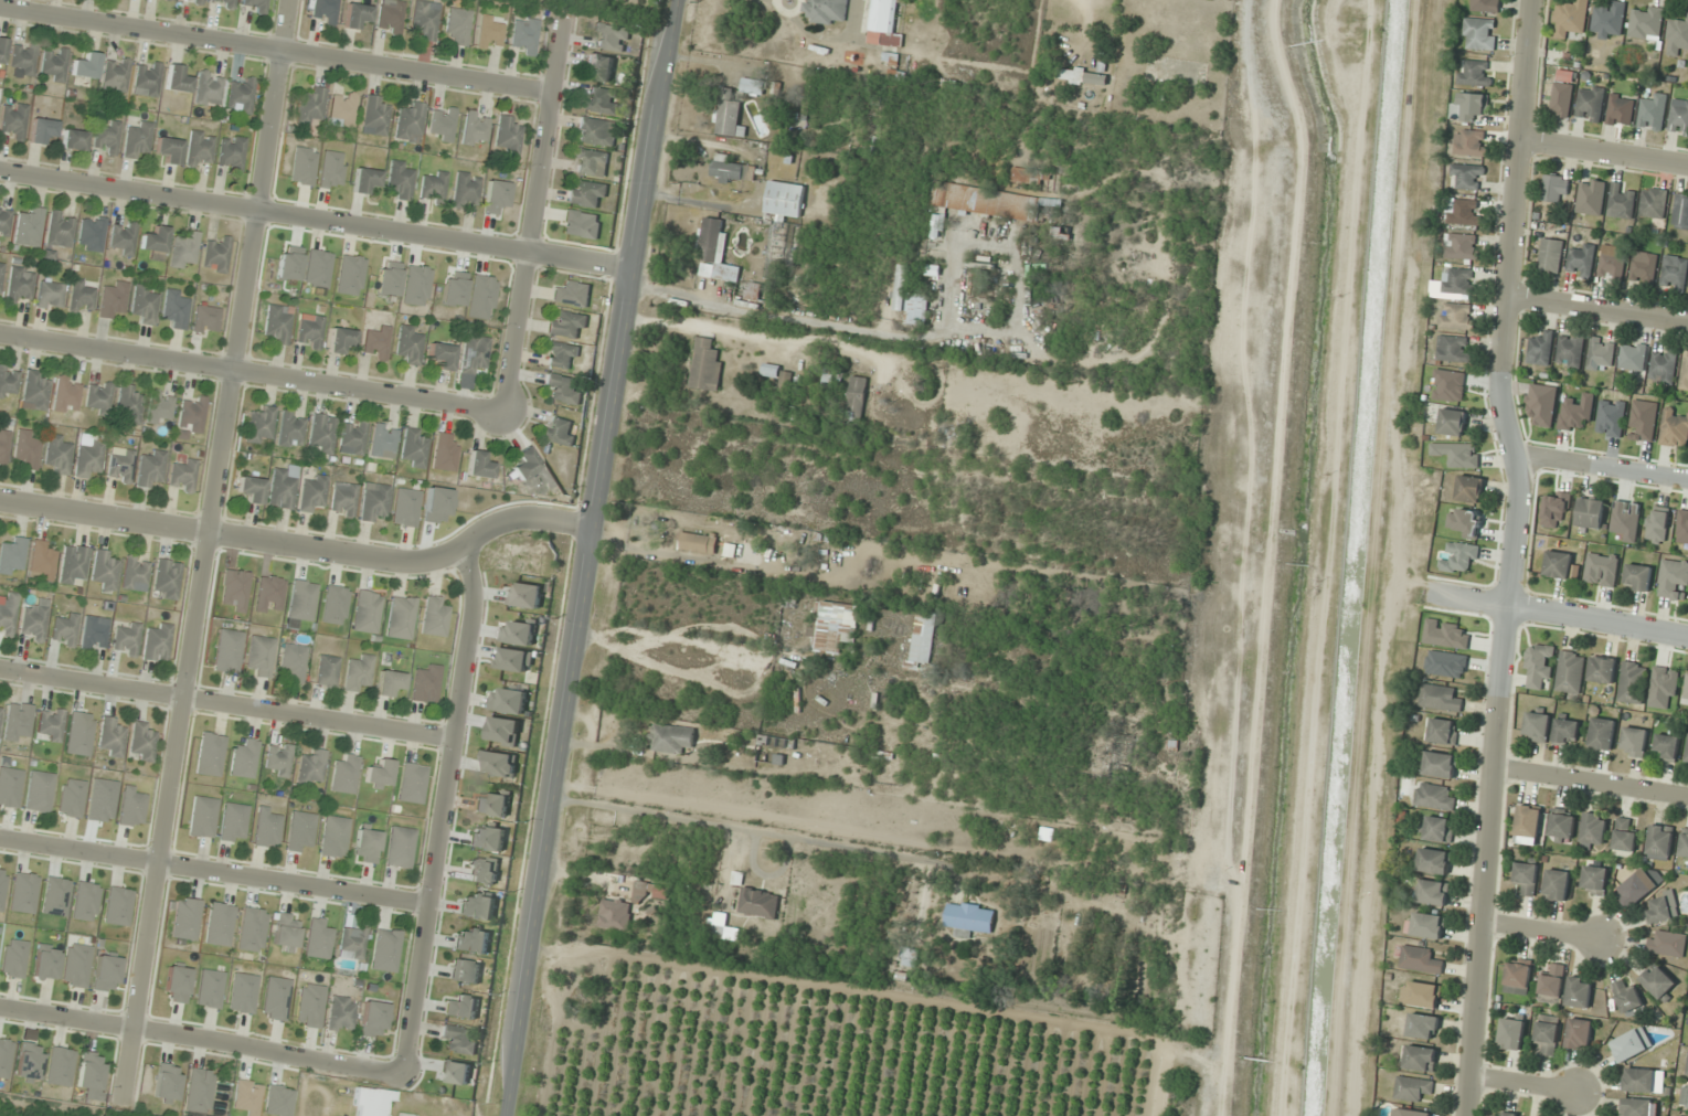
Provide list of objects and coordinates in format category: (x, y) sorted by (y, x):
building: (194, 1)
building: (223, 3)
building: (255, 6)
building: (1484, 6)
building: (327, 11)
building: (828, 11)
building: (357, 17)
building: (392, 18)
building: (425, 20)
building: (1571, 20)
building: (1646, 22)
building: (883, 23)
building: (458, 25)
building: (490, 33)
building: (1479, 34)
building: (525, 35)
building: (1677, 36)
building: (611, 38)
building: (2, 50)
road: (275, 51)
building: (23, 62)
building: (54, 65)
building: (601, 66)
building: (86, 67)
building: (1475, 74)
building: (116, 75)
building: (1082, 76)
building: (147, 79)
building: (177, 81)
building: (753, 86)
building: (209, 89)
building: (1562, 94)
building: (240, 96)
building: (603, 102)
building: (1590, 103)
building: (311, 107)
building: (1472, 108)
building: (342, 109)
building: (1620, 110)
building: (1653, 113)
building: (730, 115)
building: (376, 116)
building: (1679, 118)
building: (13, 121)
building: (410, 123)
building: (476, 129)
building: (42, 130)
building: (597, 131)
building: (509, 137)
building: (107, 139)
building: (74, 141)
building: (138, 141)
building: (1468, 142)
building: (169, 150)
building: (200, 150)
road: (1604, 152)
building: (231, 155)
building: (591, 162)
building: (731, 169)
building: (1030, 177)
building: (1468, 177)
building: (365, 180)
building: (401, 181)
building: (434, 187)
building: (1556, 189)
building: (467, 191)
building: (587, 194)
building: (1591, 196)
building: (785, 199)
building: (1622, 201)
building: (986, 202)
building: (1653, 203)
building: (0, 204)
building: (1680, 211)
building: (1464, 212)
road: (534, 213)
road: (315, 219)
building: (4, 223)
building: (936, 226)
building: (30, 227)
building: (61, 231)
building: (92, 235)
building: (124, 238)
building: (156, 242)
building: (1462, 246)
building: (715, 249)
building: (184, 253)
building: (216, 255)
building: (1550, 256)
building: (1581, 262)
building: (1612, 264)
building: (1643, 268)
building: (1, 272)
building: (1674, 272)
building: (1458, 281)
building: (20, 286)
building: (900, 288)
building: (753, 291)
building: (571, 295)
building: (51, 296)
building: (82, 298)
building: (114, 300)
building: (145, 305)
building: (176, 309)
building: (917, 309)
road: (1596, 309)
building: (1457, 317)
building: (206, 320)
building: (277, 326)
building: (567, 326)
building: (310, 332)
building: (340, 340)
building: (376, 344)
building: (410, 346)
building: (1540, 349)
building: (1451, 351)
building: (1570, 351)
building: (475, 354)
building: (1601, 354)
building: (562, 355)
building: (442, 357)
building: (1633, 357)
building: (705, 365)
building: (1663, 366)
building: (1685, 372)
road: (252, 373)
building: (832, 379)
building: (8, 382)
building: (781, 387)
building: (563, 390)
building: (34, 393)
building: (66, 396)
building: (98, 398)
building: (857, 398)
building: (1542, 403)
building: (129, 405)
building: (160, 408)
building: (1576, 414)
building: (192, 415)
building: (1452, 422)
building: (259, 427)
building: (290, 431)
building: (560, 431)
building: (1674, 431)
building: (321, 435)
building: (352, 438)
building: (384, 442)
building: (4, 445)
building: (415, 449)
building: (26, 450)
building: (446, 453)
building: (59, 455)
building: (89, 457)
building: (525, 465)
building: (120, 466)
road: (1602, 466)
building: (479, 467)
building: (150, 468)
building: (183, 477)
building: (282, 487)
building: (1469, 489)
building: (251, 490)
building: (312, 495)
building: (343, 500)
building: (374, 503)
building: (1554, 509)
building: (1590, 513)
building: (1657, 525)
building: (1682, 530)
building: (699, 543)
road: (298, 549)
road: (204, 555)
road: (1516, 556)
building: (11, 557)
road: (584, 557)
building: (1459, 557)
building: (42, 561)
building: (1558, 564)
building: (73, 565)
building: (104, 571)
building: (135, 574)
building: (1638, 577)
building: (167, 580)
building: (1674, 580)
building: (234, 592)
building: (270, 595)
building: (524, 595)
building: (790, 598)
building: (302, 600)
building: (335, 605)
building: (368, 613)
building: (8, 615)
building: (435, 617)
building: (402, 618)
road: (1600, 618)
building: (34, 620)
building: (834, 626)
building: (64, 630)
building: (94, 634)
building: (922, 639)
building: (126, 640)
building: (157, 644)
building: (227, 651)
building: (262, 656)
building: (294, 663)
building: (1446, 665)
building: (1539, 667)
building: (1602, 670)
building: (328, 672)
building: (1570, 672)
building: (358, 673)
building: (1632, 682)
building: (390, 683)
building: (426, 685)
building: (1687, 690)
building: (1440, 698)
road: (226, 704)
building: (0, 705)
building: (17, 723)
building: (1537, 724)
building: (49, 725)
building: (1444, 731)
building: (1565, 731)
building: (78, 734)
building: (1602, 734)
building: (110, 737)
building: (671, 738)
building: (1634, 742)
building: (141, 743)
building: (1667, 746)
building: (210, 755)
building: (1687, 758)
building: (245, 759)
building: (278, 759)
building: (501, 764)
building: (1441, 764)
building: (311, 769)
building: (380, 775)
building: (346, 776)
road: (1591, 782)
building: (412, 784)
building: (9, 787)
building: (39, 793)
building: (1435, 796)
building: (70, 798)
building: (131, 807)
road: (443, 808)
building: (203, 818)
building: (1528, 821)
building: (234, 823)
building: (1562, 826)
building: (268, 828)
building: (1436, 829)
building: (1593, 830)
building: (301, 832)
building: (335, 838)
building: (488, 838)
building: (1624, 839)
building: (1659, 842)
building: (367, 844)
building: (1684, 844)
building: (400, 848)
building: (1433, 861)
road: (213, 870)
building: (1527, 876)
building: (1594, 880)
building: (1556, 884)
building: (1636, 889)
building: (651, 891)
building: (1433, 892)
building: (23, 893)
building: (55, 896)
building: (85, 902)
building: (760, 903)
building: (117, 906)
building: (478, 906)
building: (1659, 910)
building: (616, 915)
building: (969, 918)
building: (185, 920)
building: (220, 925)
building: (1426, 925)
building: (724, 928)
road: (1539, 929)
building: (252, 931)
building: (286, 931)
building: (318, 939)
building: (473, 940)
building: (352, 943)
building: (1666, 943)
building: (385, 950)
building: (909, 956)
building: (13, 959)
building: (1420, 959)
building: (76, 966)
building: (466, 972)
building: (105, 975)
building: (1518, 978)
building: (1659, 982)
building: (176, 985)
building: (1552, 986)
building: (210, 989)
building: (1579, 992)
building: (243, 993)
building: (1423, 995)
building: (1627, 998)
building: (276, 999)
building: (310, 1007)
building: (461, 1007)
building: (340, 1014)
building: (373, 1020)
building: (1423, 1027)
building: (1548, 1033)
building: (1511, 1034)
building: (1580, 1034)
road: (201, 1037)
building: (460, 1039)
building: (1687, 1039)
building: (1632, 1044)
building: (4, 1057)
building: (1420, 1057)
building: (29, 1062)
building: (1687, 1066)
building: (60, 1067)
building: (91, 1074)
building: (1639, 1081)
building: (167, 1083)
road: (1524, 1084)
building: (1412, 1088)
building: (199, 1091)
building: (1684, 1098)
building: (1639, 1107)
building: (1410, 1113)
building: (1504, 1114)

